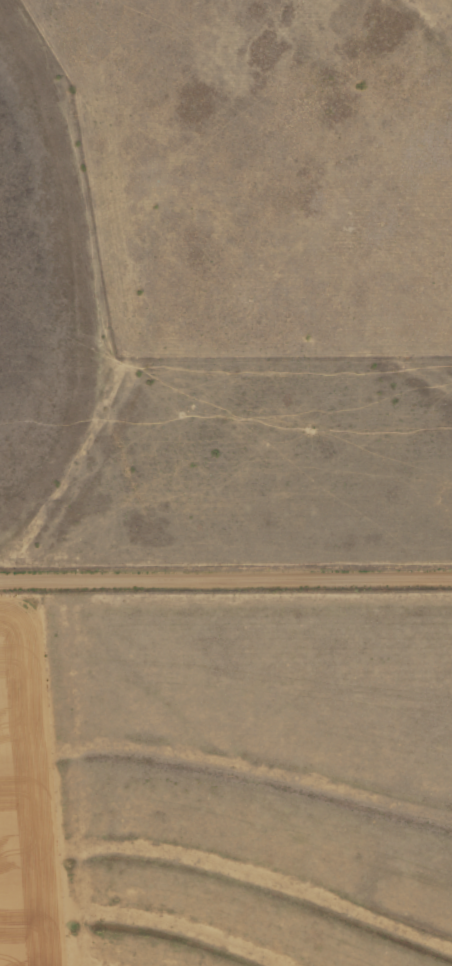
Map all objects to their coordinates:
road: (226, 579)

